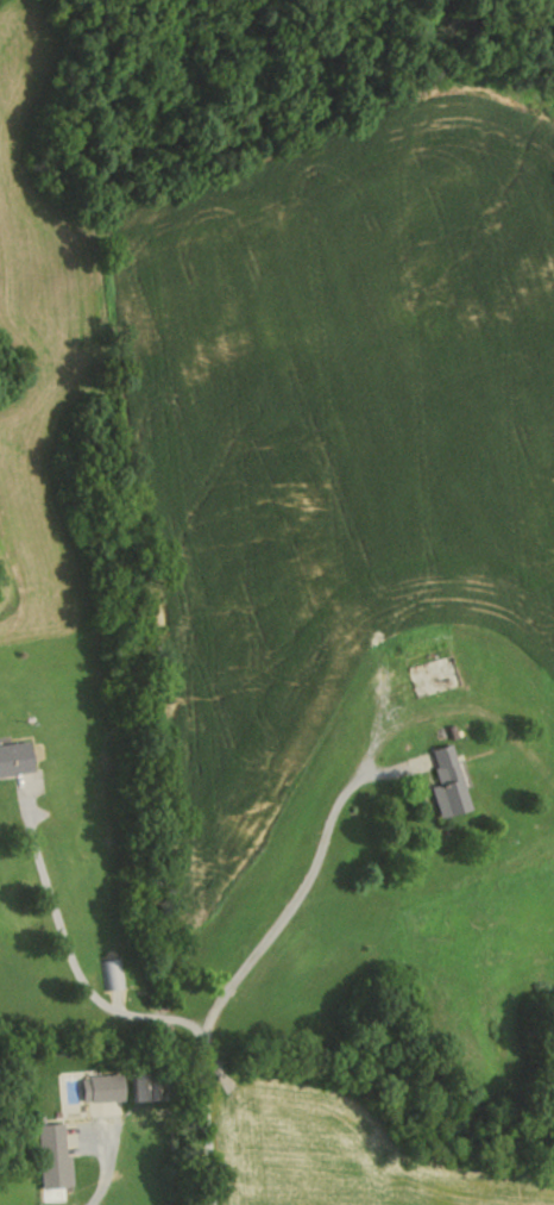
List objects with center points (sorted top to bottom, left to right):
building: (434, 675)
building: (17, 758)
building: (452, 783)
road: (74, 961)
road: (235, 973)
building: (111, 975)
building: (108, 1088)
building: (55, 1156)
road: (103, 1178)

